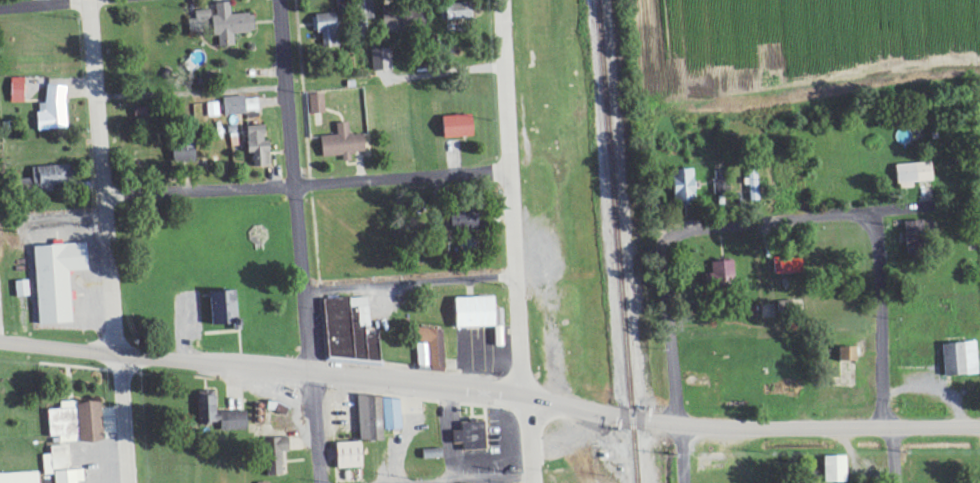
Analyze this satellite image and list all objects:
road: (34, 2)
building: (461, 12)
building: (367, 13)
building: (204, 15)
building: (398, 19)
building: (232, 25)
building: (328, 30)
building: (382, 60)
road: (506, 83)
building: (19, 90)
building: (317, 104)
building: (242, 105)
building: (55, 109)
building: (144, 113)
building: (460, 127)
building: (343, 144)
building: (261, 146)
building: (184, 152)
building: (911, 173)
road: (103, 175)
building: (53, 178)
road: (308, 182)
building: (718, 183)
road: (297, 184)
building: (751, 184)
building: (681, 185)
road: (837, 217)
building: (469, 223)
building: (909, 232)
railway: (617, 241)
building: (783, 264)
building: (722, 274)
road: (520, 279)
road: (412, 280)
building: (59, 281)
building: (23, 289)
road: (666, 289)
building: (479, 313)
road: (882, 316)
building: (352, 331)
building: (432, 351)
building: (842, 354)
building: (957, 359)
road: (442, 382)
building: (221, 416)
road: (122, 417)
building: (379, 418)
building: (78, 423)
road: (931, 425)
road: (317, 426)
building: (472, 436)
road: (529, 438)
road: (682, 452)
building: (434, 454)
road: (896, 454)
building: (277, 456)
building: (352, 456)
building: (56, 460)
building: (833, 469)
building: (70, 477)
building: (20, 478)
road: (479, 478)

